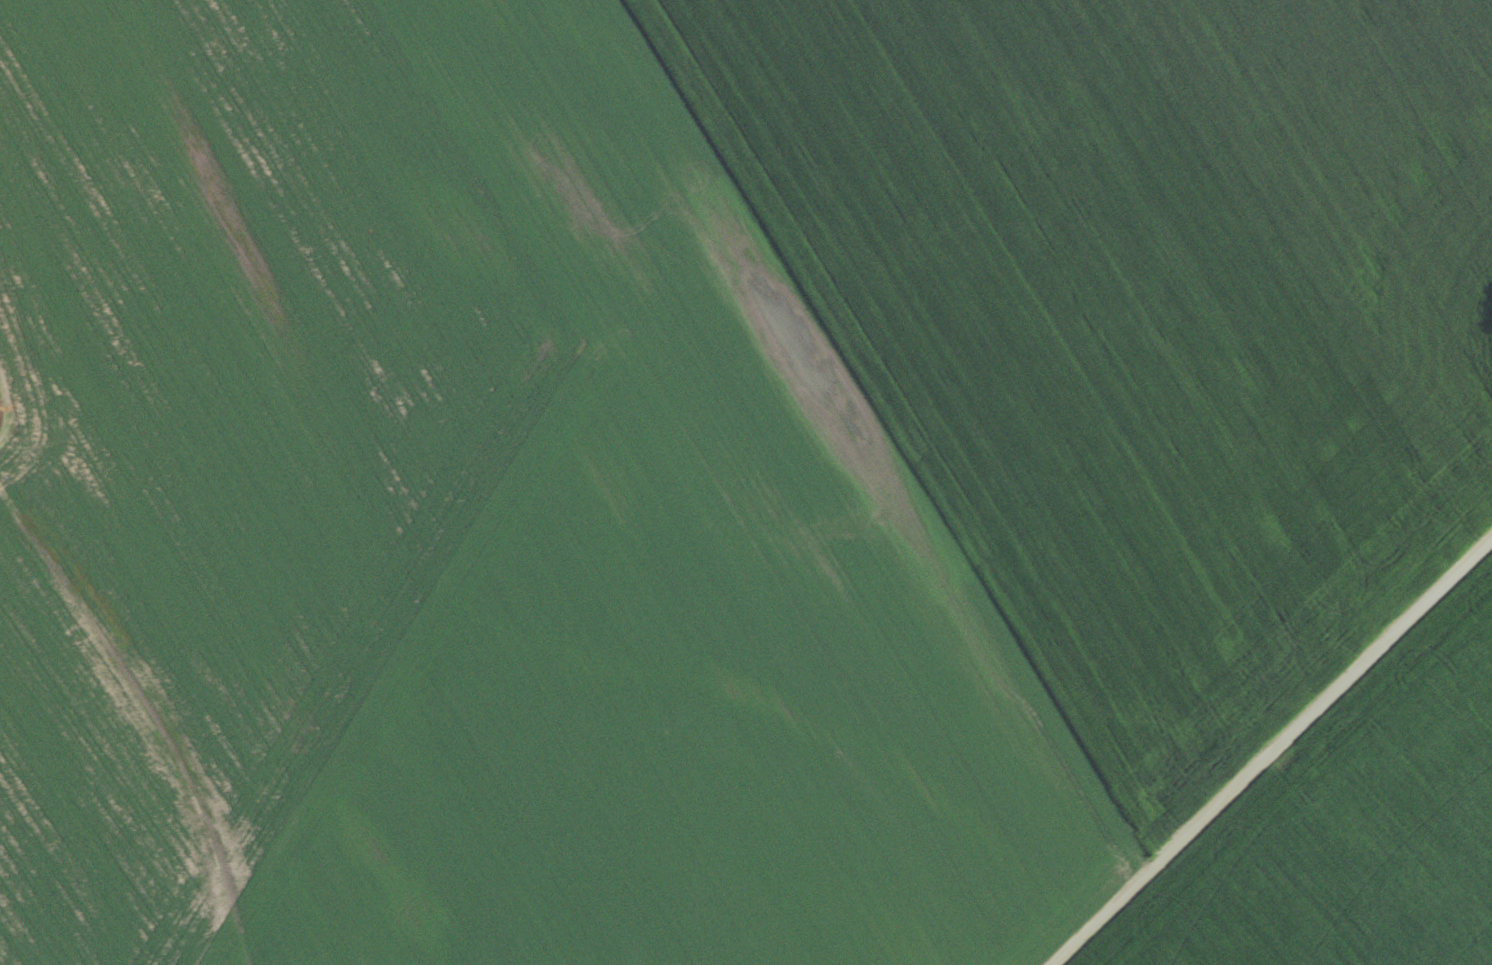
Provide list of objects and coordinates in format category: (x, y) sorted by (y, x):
road: (1272, 753)

